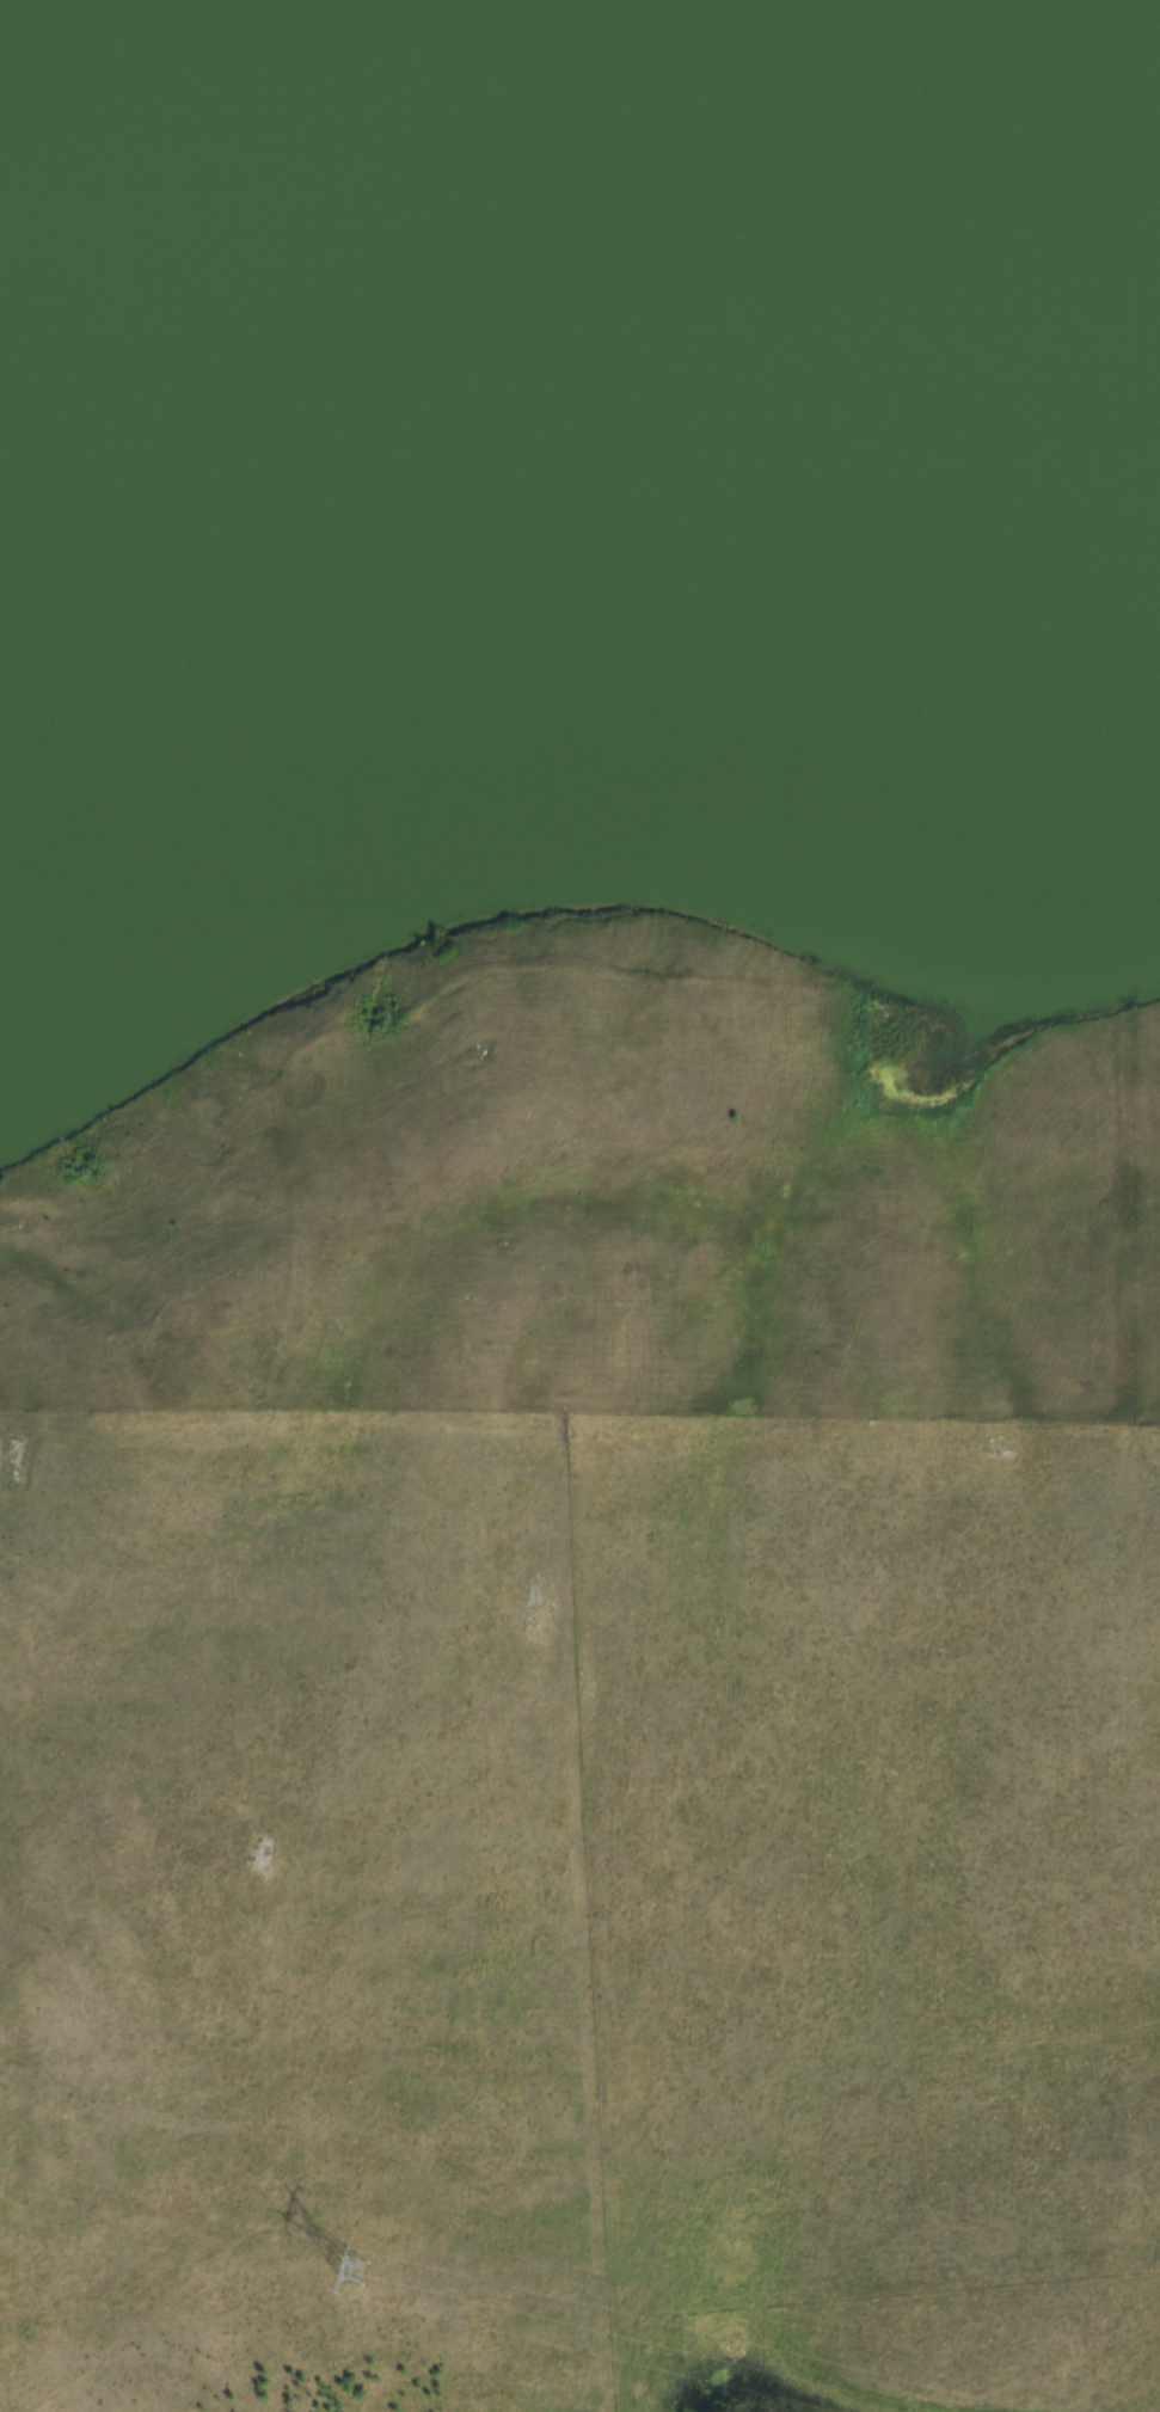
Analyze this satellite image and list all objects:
power tower: (351, 2328)

